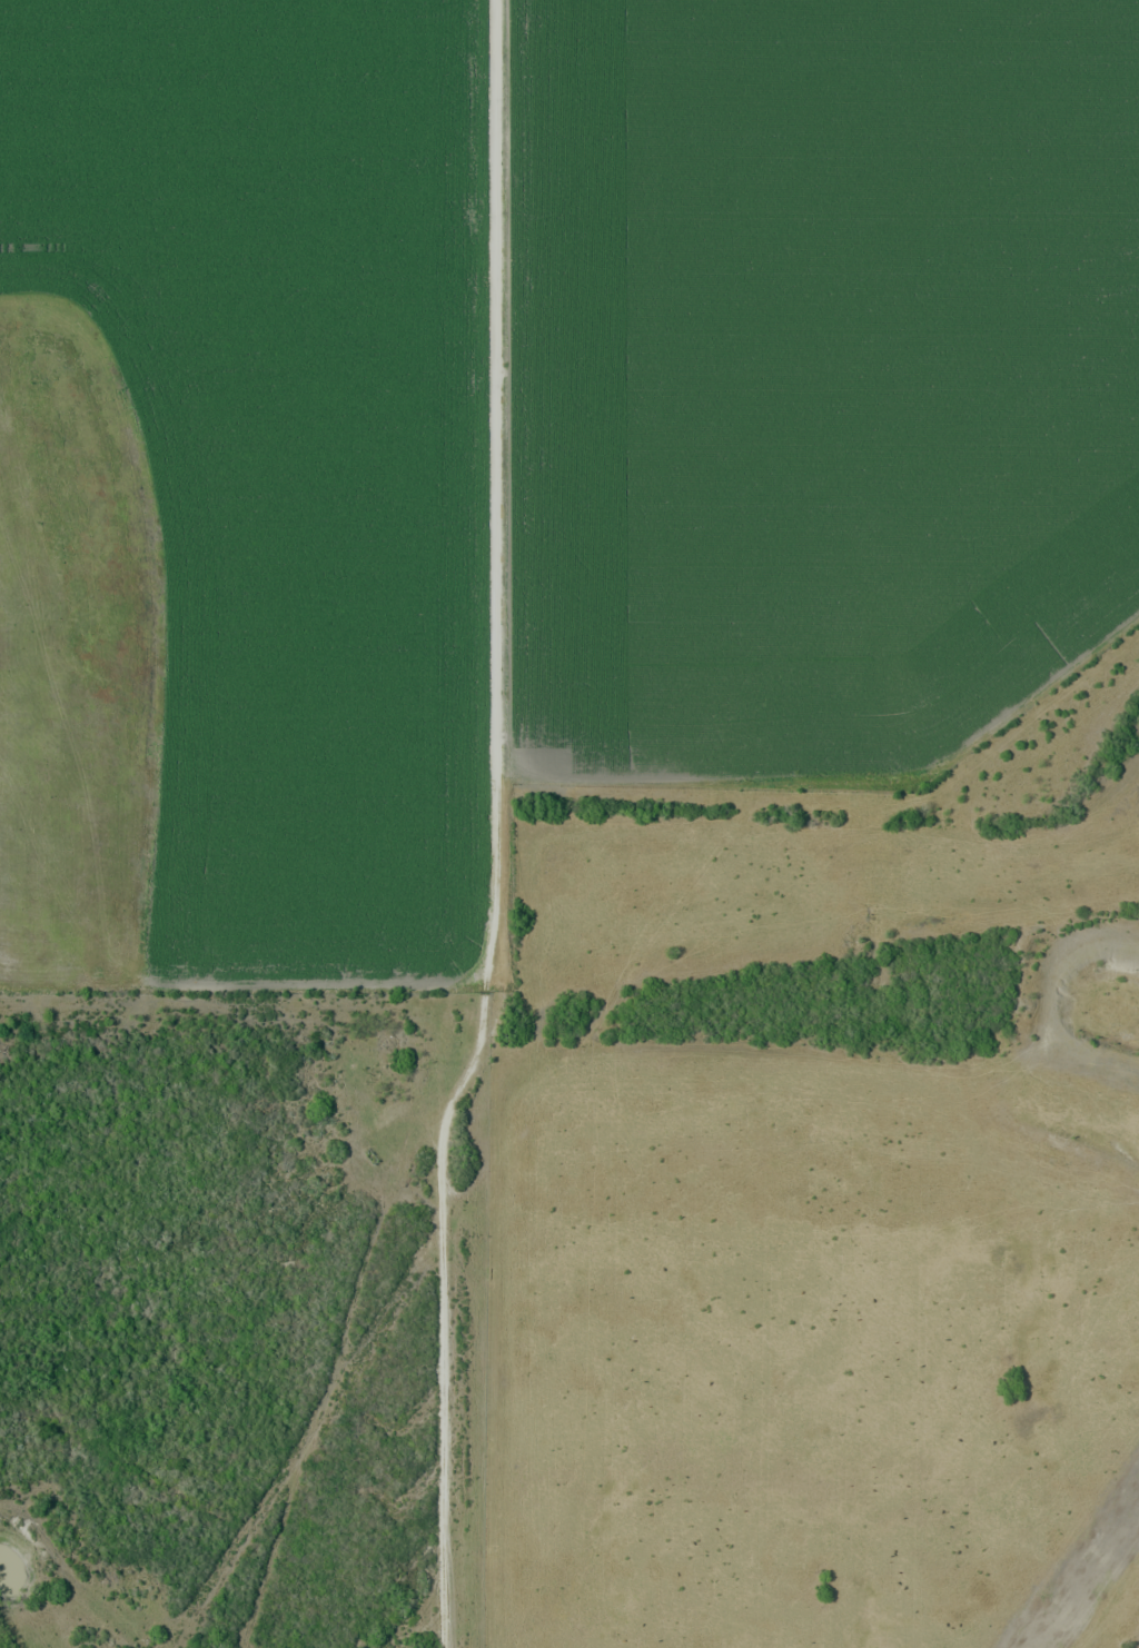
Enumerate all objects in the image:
road: (495, 496)
road: (445, 1313)

